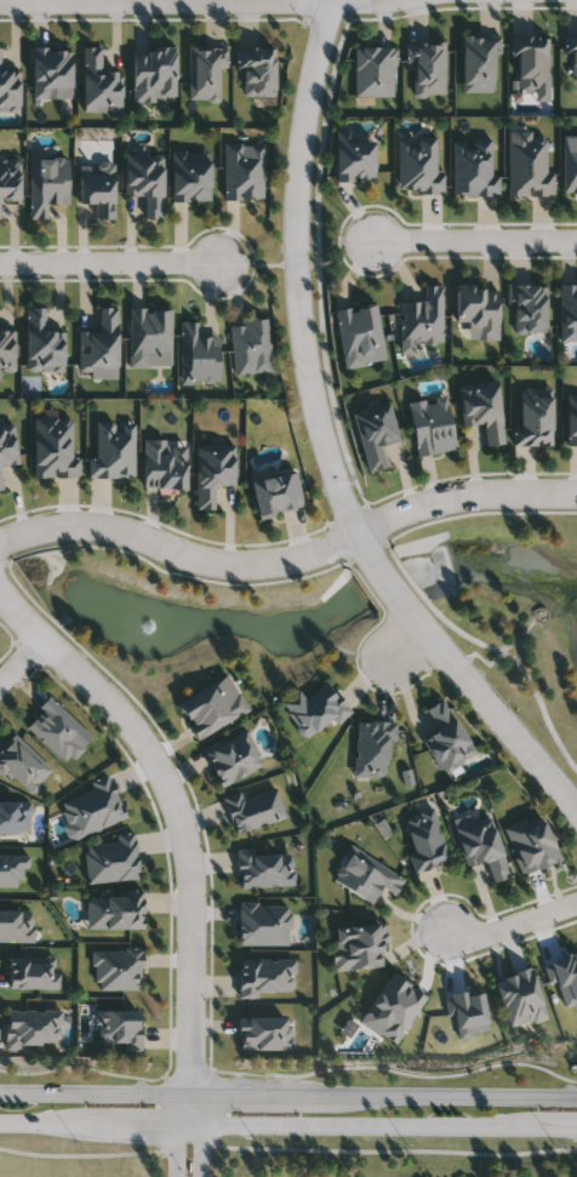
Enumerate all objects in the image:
road: (196, 5)
building: (572, 59)
building: (479, 64)
building: (531, 64)
building: (425, 67)
building: (50, 70)
building: (256, 72)
building: (204, 73)
building: (153, 75)
building: (98, 84)
building: (8, 90)
building: (354, 159)
building: (570, 165)
building: (417, 166)
building: (527, 166)
building: (472, 167)
building: (242, 172)
building: (190, 177)
building: (144, 182)
building: (8, 184)
building: (46, 185)
building: (97, 188)
road: (475, 240)
road: (109, 262)
building: (527, 307)
building: (478, 309)
building: (567, 313)
building: (422, 318)
building: (359, 336)
building: (148, 338)
building: (99, 343)
building: (41, 344)
building: (247, 344)
building: (6, 350)
building: (196, 356)
building: (482, 410)
building: (533, 418)
building: (571, 421)
building: (430, 425)
building: (373, 434)
road: (322, 445)
building: (7, 446)
building: (53, 447)
building: (112, 451)
building: (164, 464)
building: (212, 473)
building: (0, 486)
building: (276, 496)
road: (288, 559)
road: (405, 642)
road: (21, 659)
building: (212, 704)
building: (314, 707)
building: (58, 729)
building: (447, 736)
building: (372, 747)
building: (22, 761)
building: (13, 818)
road: (179, 822)
building: (425, 840)
building: (531, 841)
building: (482, 845)
building: (264, 867)
building: (12, 870)
building: (366, 874)
building: (115, 908)
building: (16, 921)
road: (513, 922)
building: (359, 944)
building: (33, 971)
building: (265, 976)
building: (33, 1025)
building: (119, 1025)
building: (265, 1030)
road: (288, 1091)
road: (188, 1120)
road: (288, 1121)

